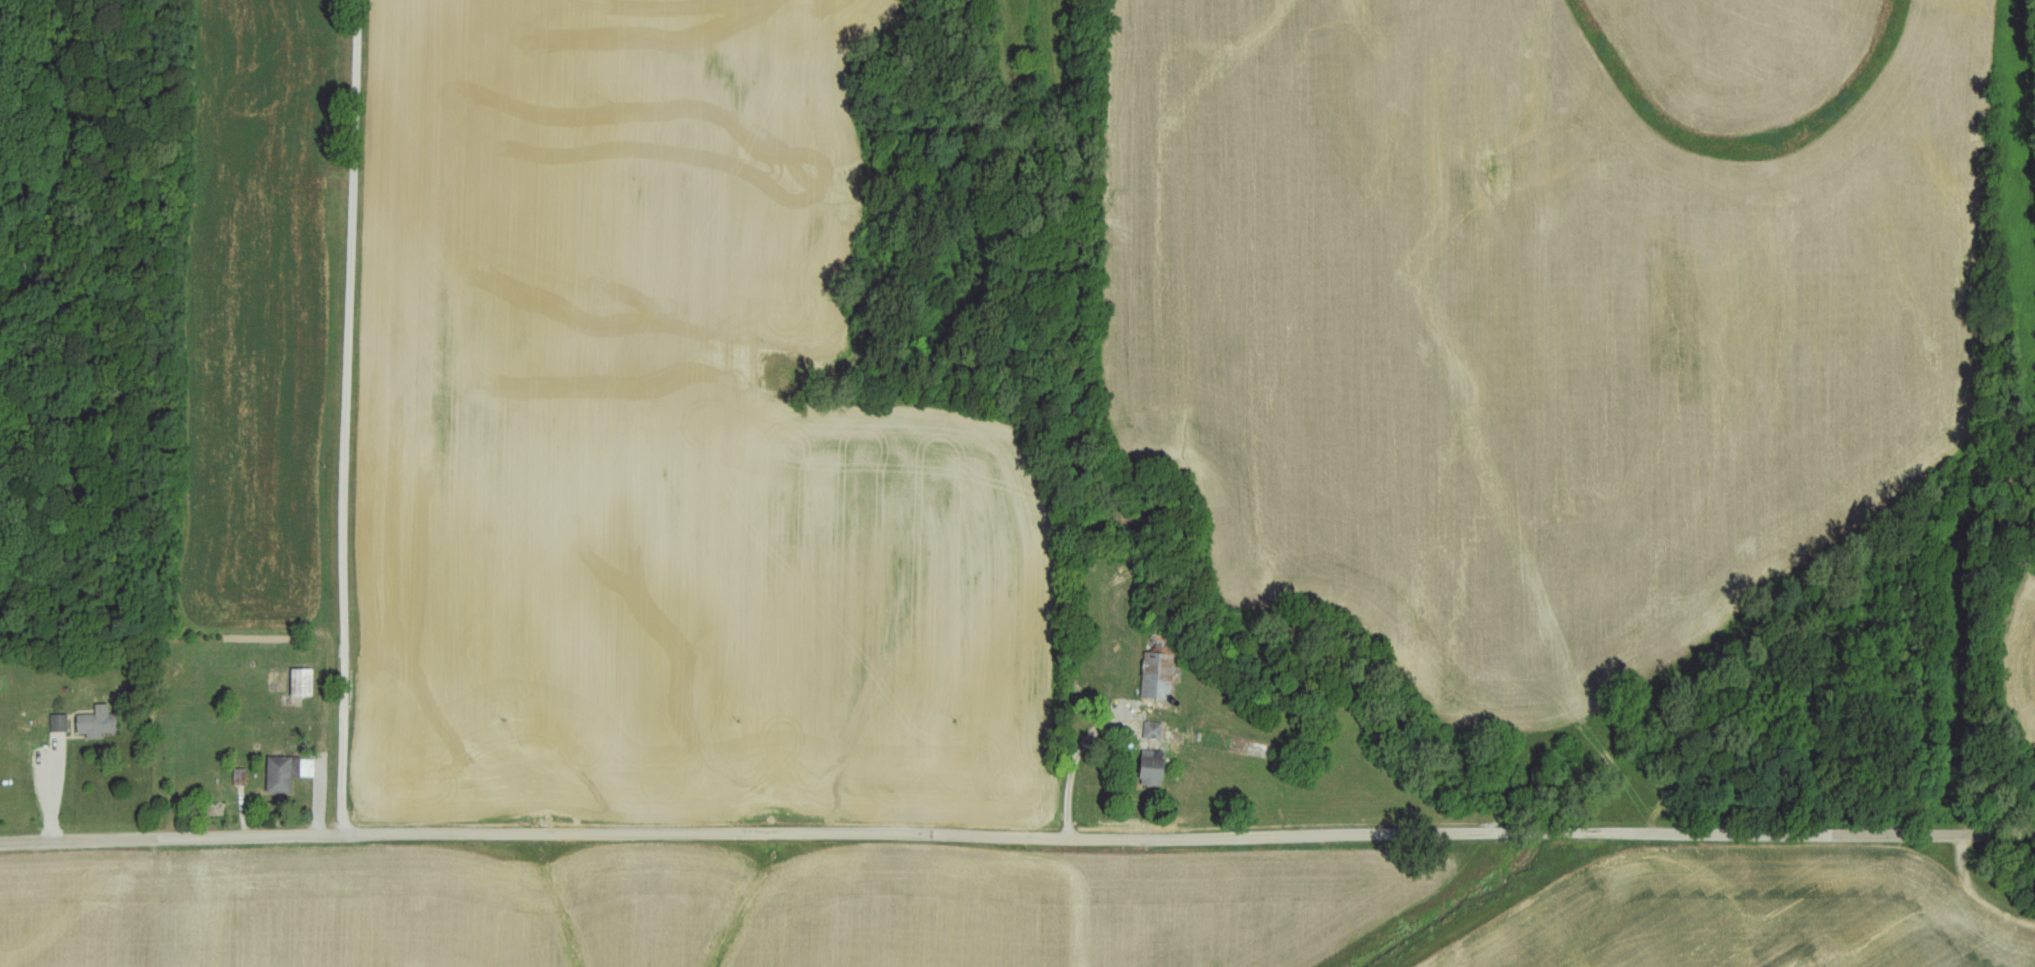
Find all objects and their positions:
road: (313, 417)
building: (1157, 676)
building: (309, 682)
building: (101, 722)
building: (63, 723)
building: (1154, 730)
road: (1076, 768)
building: (1150, 768)
building: (291, 773)
road: (55, 789)
road: (1017, 837)

